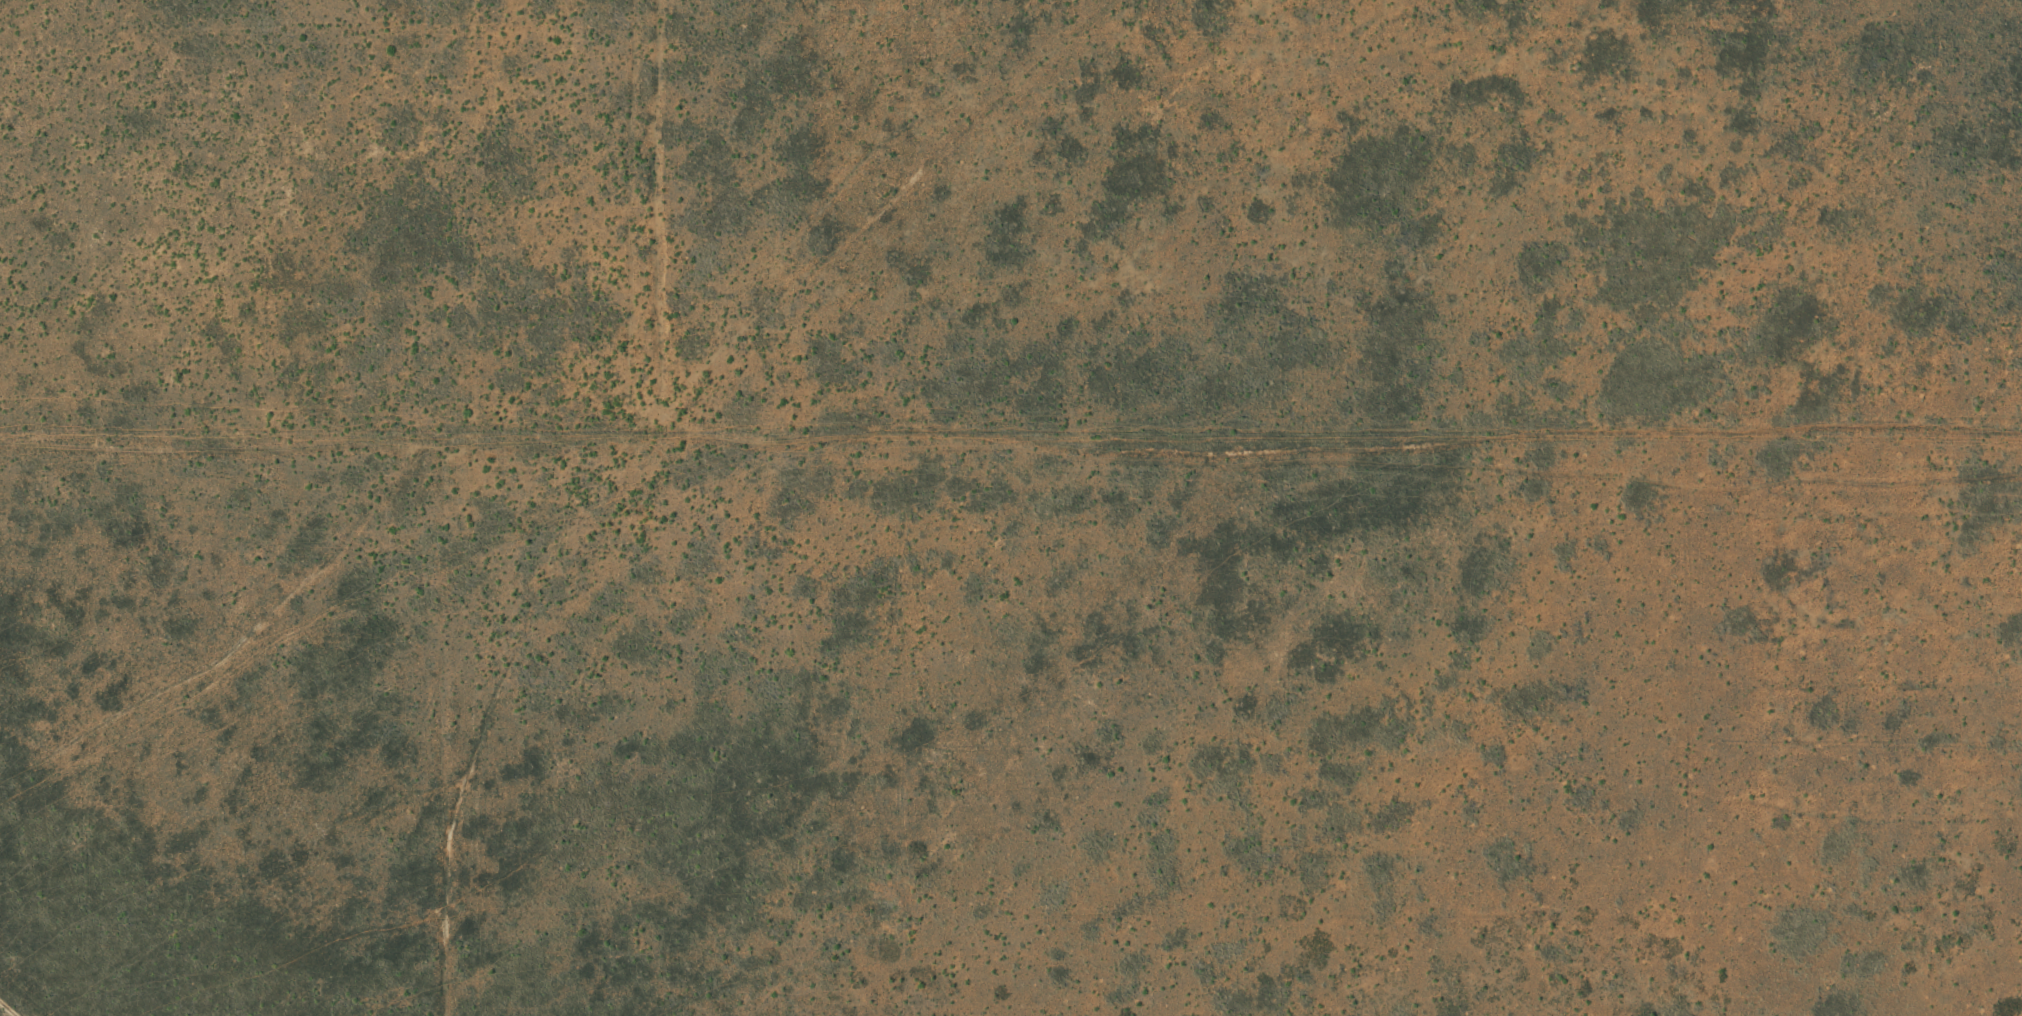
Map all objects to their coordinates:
road: (858, 191)
road: (251, 560)

